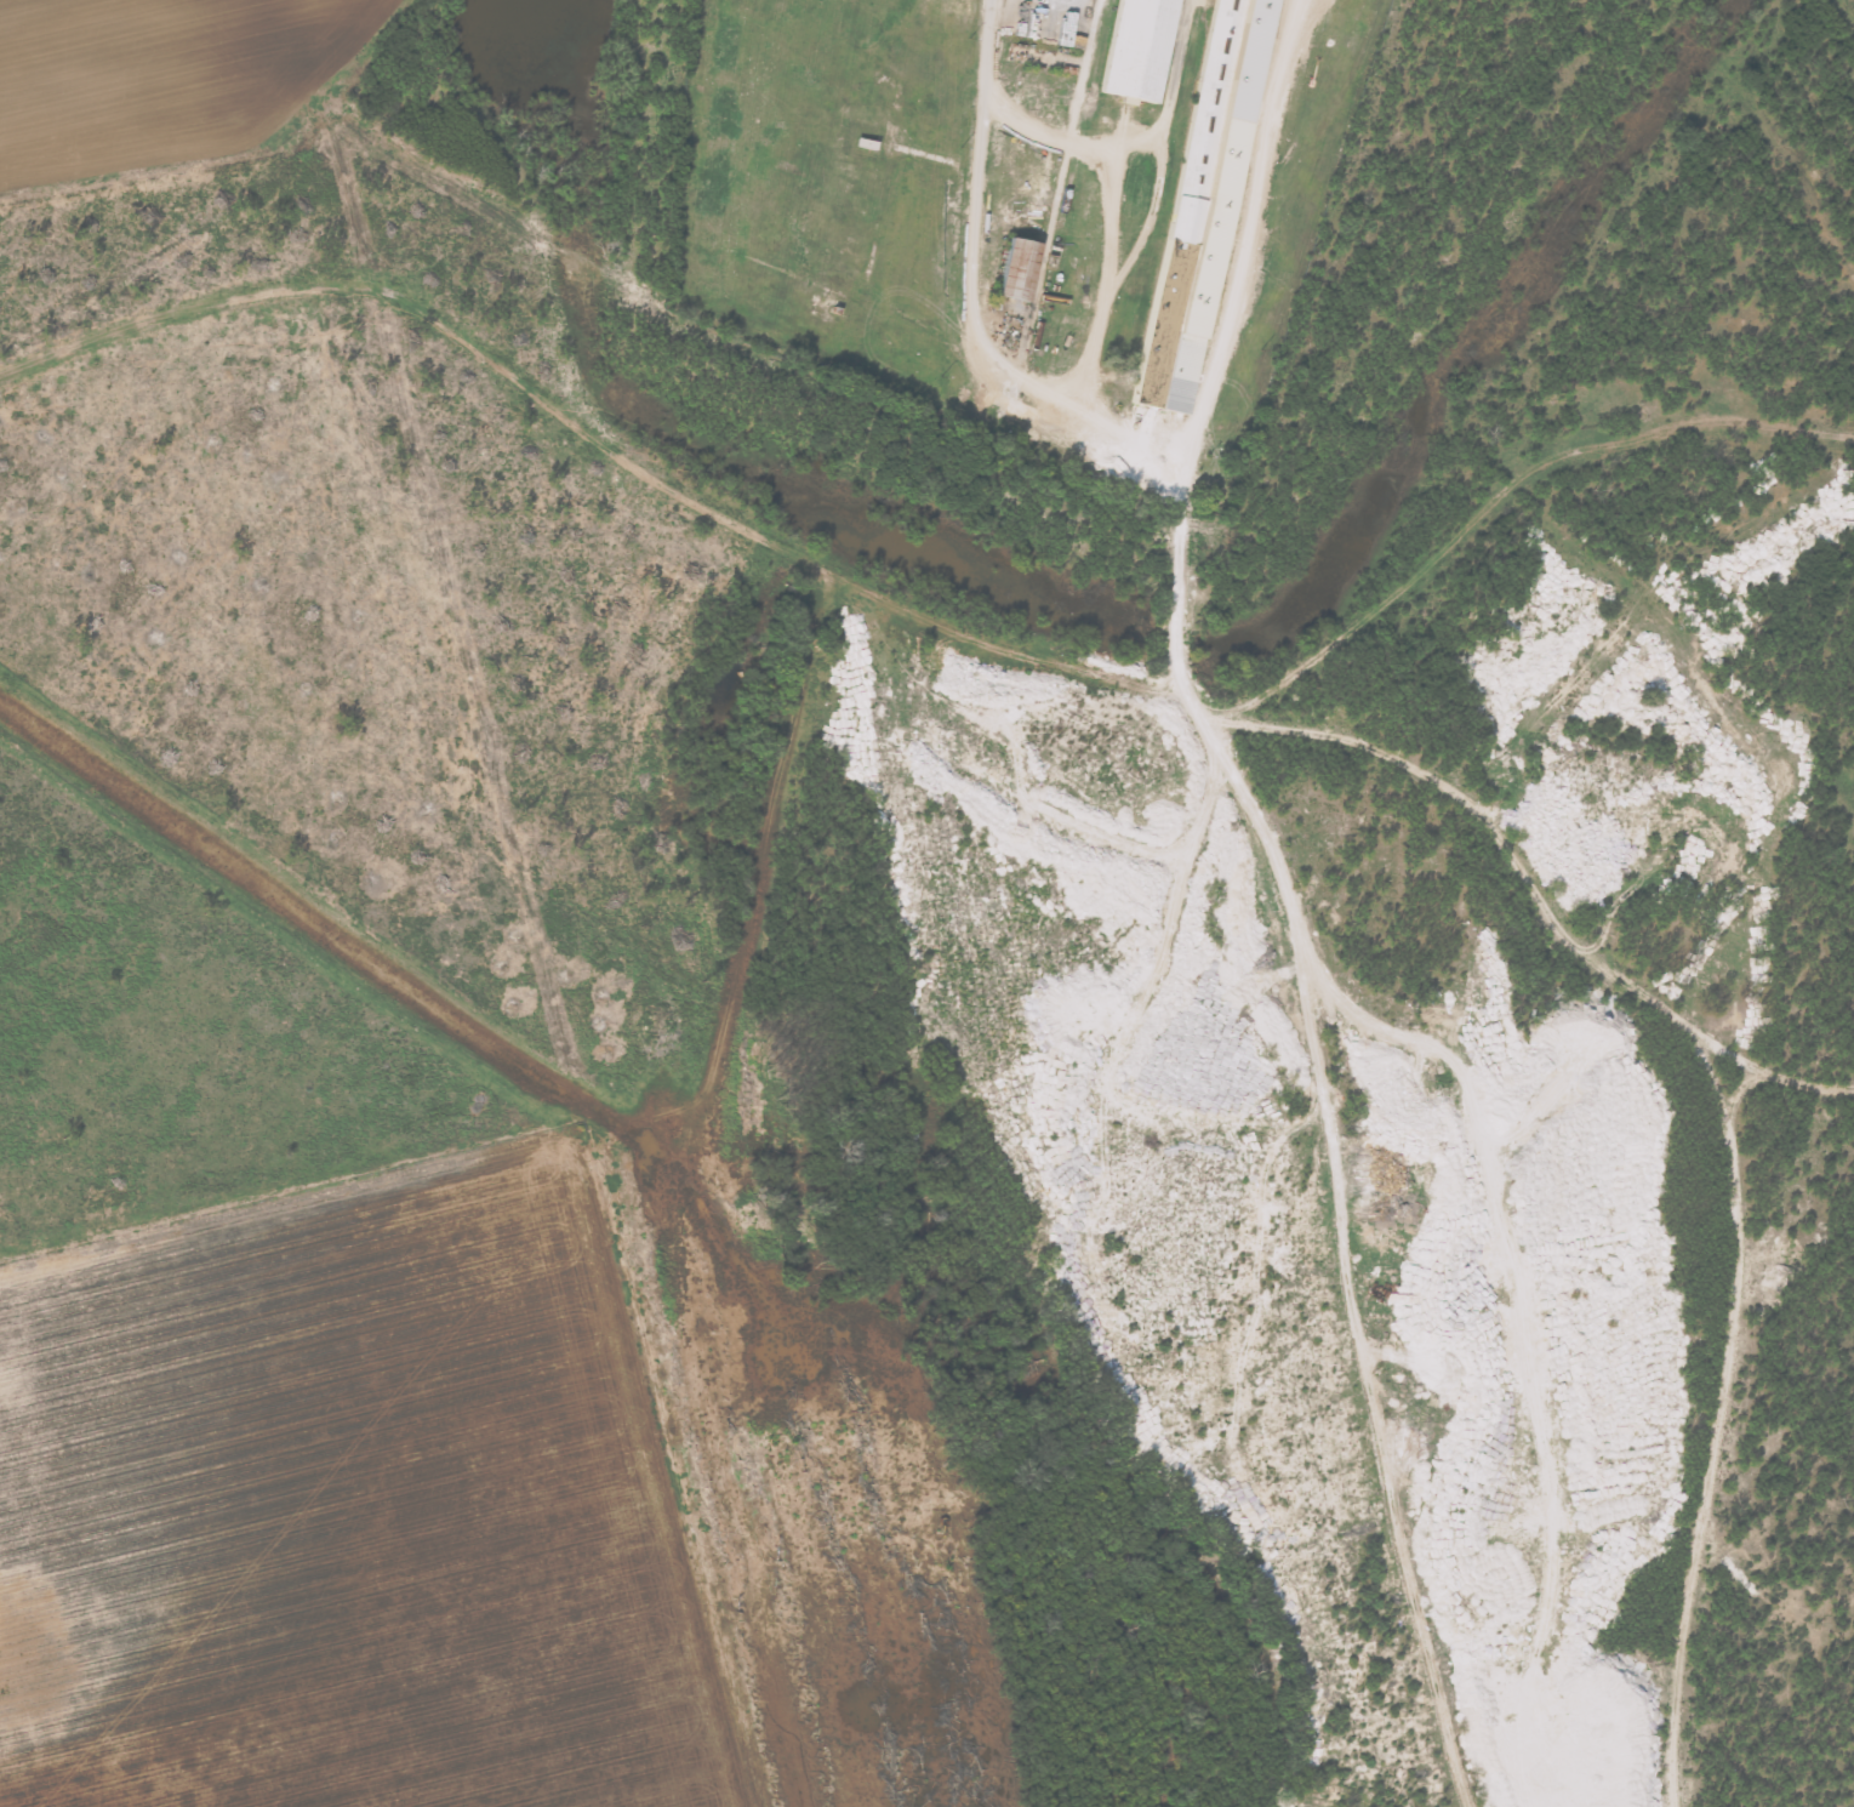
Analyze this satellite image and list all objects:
building: (1220, 35)
building: (1133, 49)
building: (1215, 206)
building: (1016, 270)

